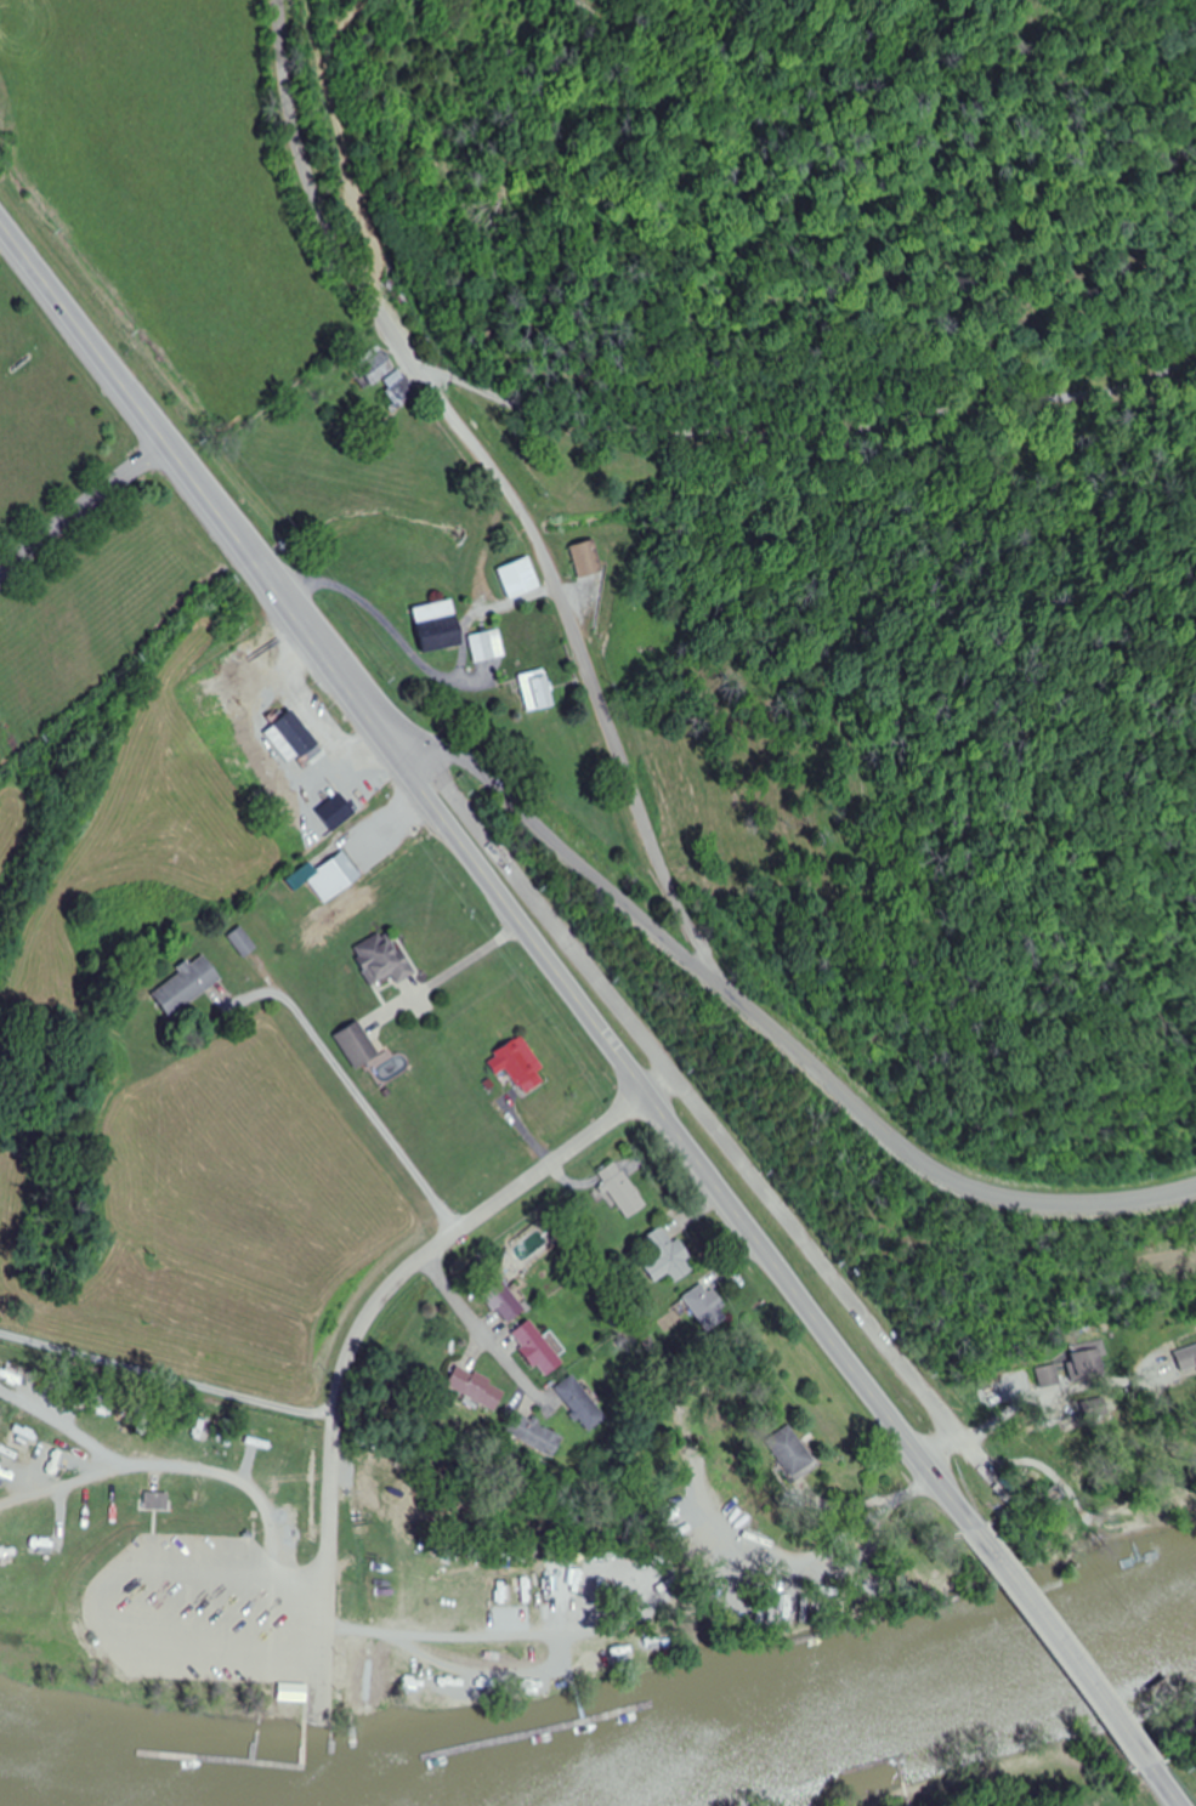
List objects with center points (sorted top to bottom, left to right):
building: (392, 377)
road: (130, 387)
road: (816, 426)
road: (511, 478)
road: (86, 506)
building: (589, 560)
building: (522, 578)
building: (441, 625)
building: (488, 646)
road: (341, 665)
building: (539, 691)
building: (304, 736)
building: (324, 874)
road: (518, 913)
building: (243, 942)
building: (384, 959)
building: (188, 987)
road: (784, 1040)
building: (358, 1046)
building: (520, 1066)
road: (725, 1129)
building: (622, 1191)
building: (668, 1257)
road: (794, 1288)
building: (500, 1297)
road: (373, 1307)
building: (708, 1307)
road: (493, 1335)
building: (538, 1350)
building: (1188, 1361)
road: (165, 1376)
building: (480, 1388)
road: (64, 1427)
building: (537, 1436)
building: (792, 1452)
road: (175, 1465)
building: (159, 1500)
building: (297, 1538)
road: (107, 1605)
parking lot: (211, 1613)
pier: (916, 1617)
road: (1062, 1645)
pier: (841, 1648)
road: (542, 1671)
pier: (578, 1705)
pier: (521, 1732)
pier: (261, 1765)
road: (1167, 1784)

